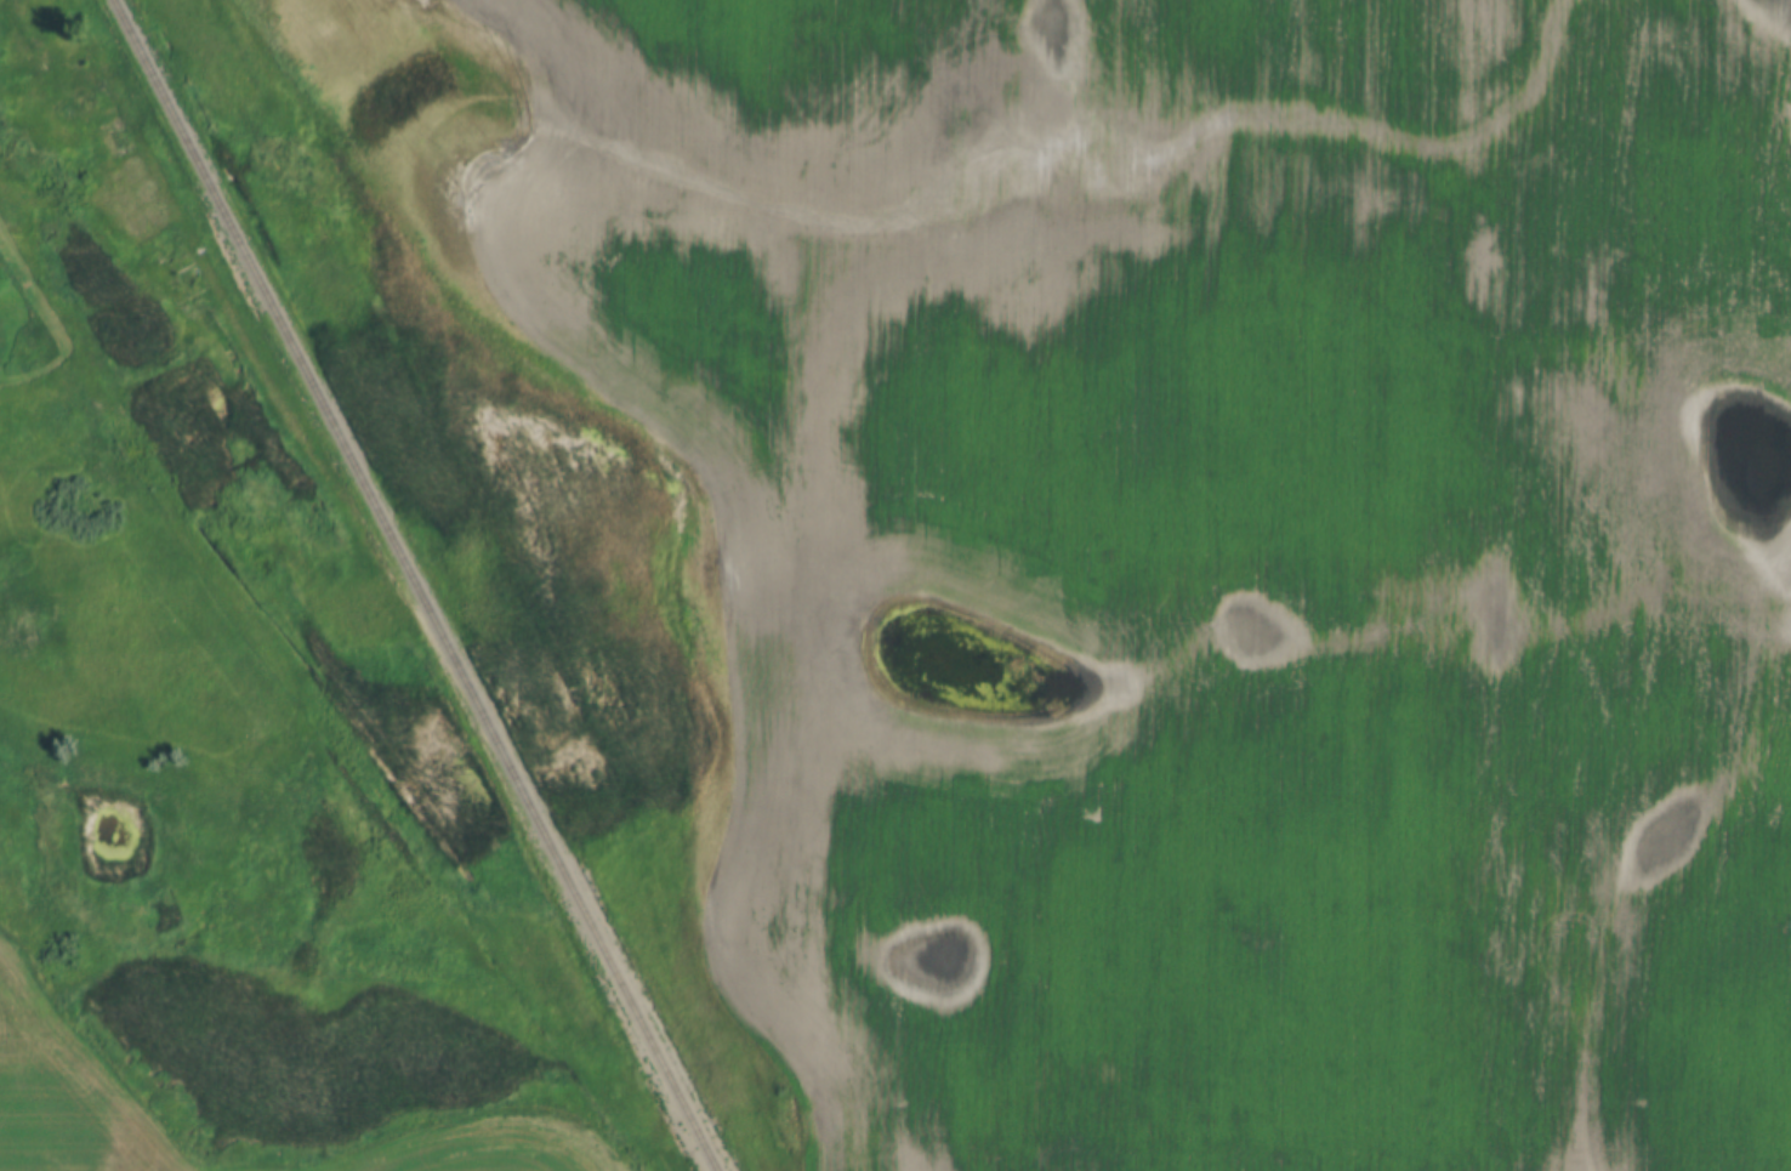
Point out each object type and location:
railway: (256, 356)
railway: (415, 585)

